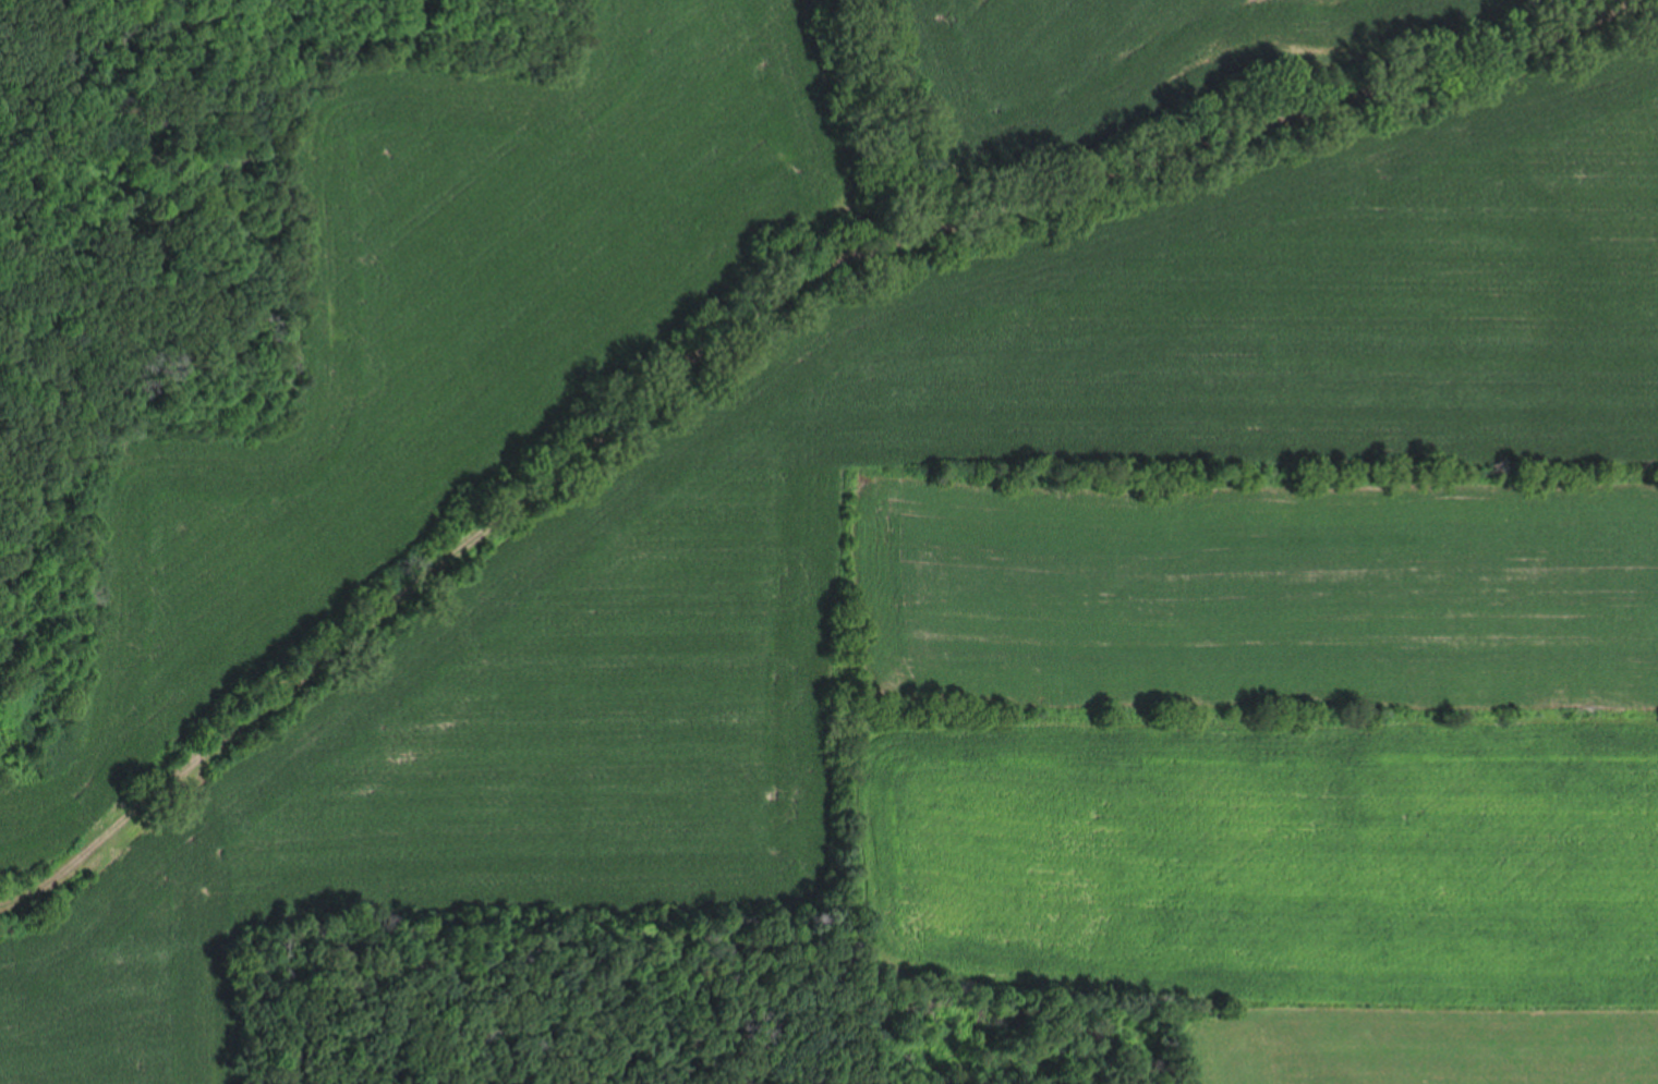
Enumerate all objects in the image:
road: (1284, 130)

